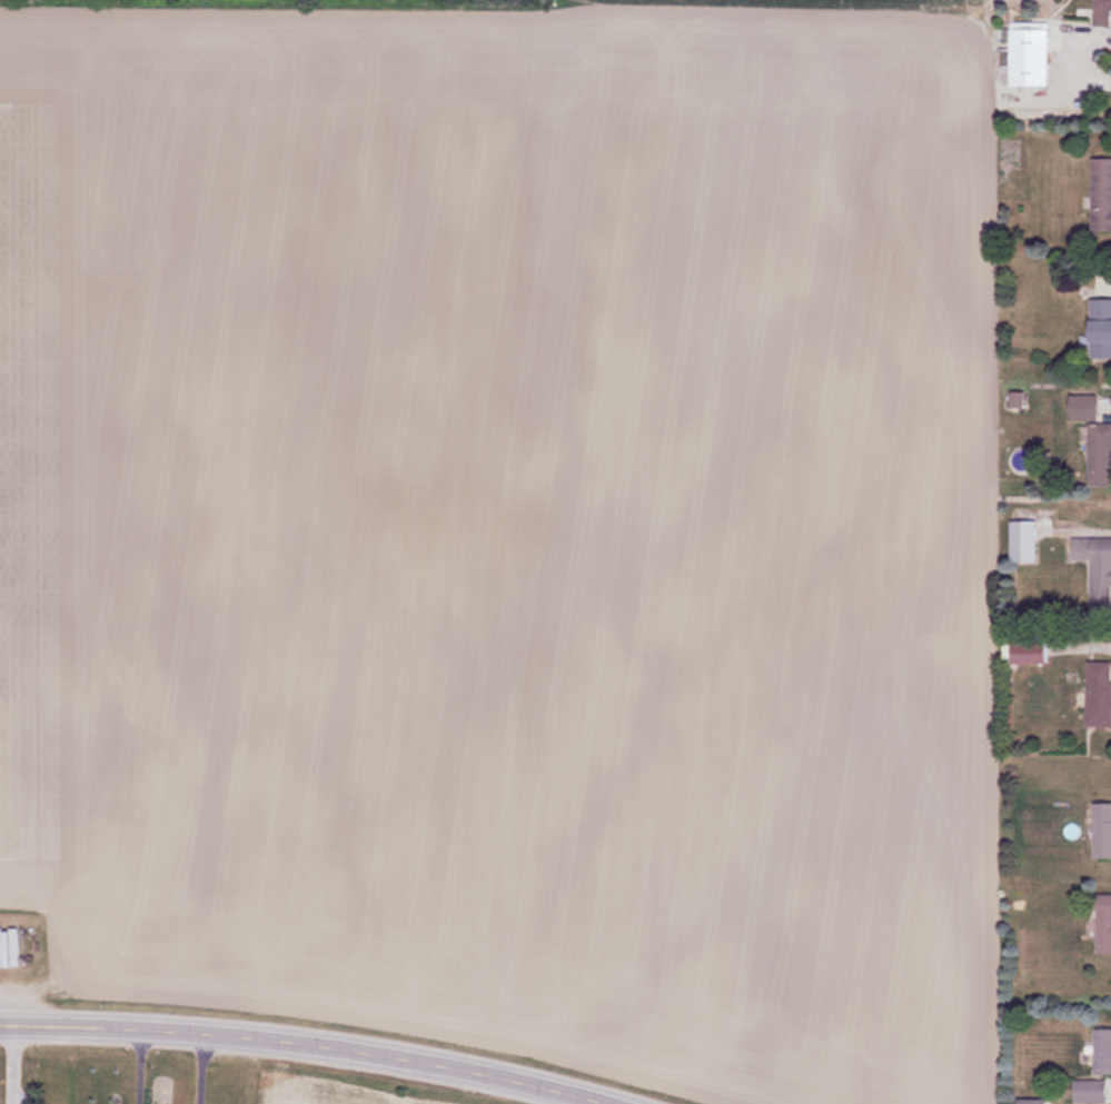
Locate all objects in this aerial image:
building: (1104, 12)
building: (1033, 54)
building: (1102, 193)
building: (1101, 327)
building: (1085, 406)
building: (1100, 452)
building: (1025, 539)
building: (1097, 567)
building: (1034, 652)
building: (1100, 692)
building: (1103, 829)
building: (1104, 924)
building: (11, 946)
road: (300, 1045)
building: (1103, 1051)
road: (139, 1068)
road: (202, 1072)
building: (1093, 1091)
building: (1036, 1101)

